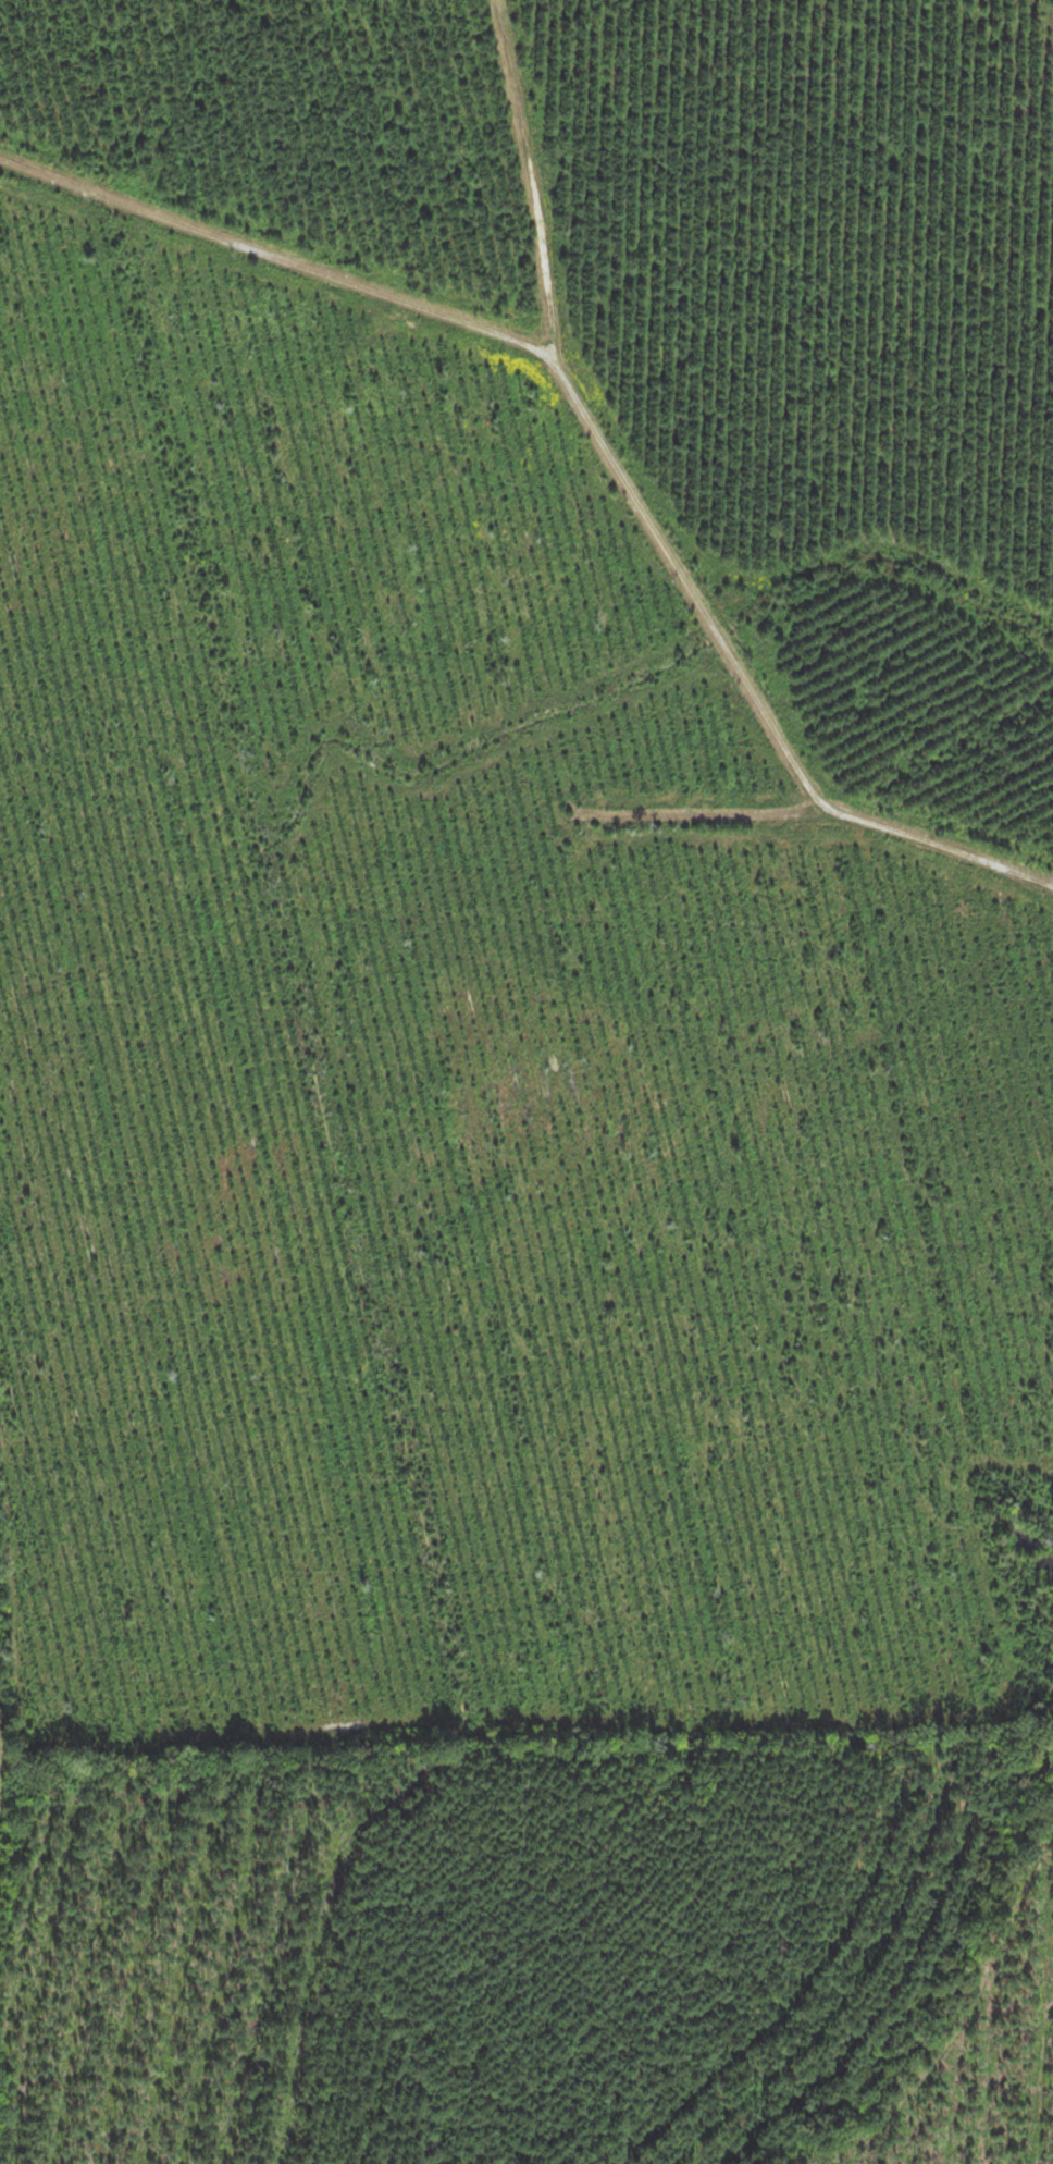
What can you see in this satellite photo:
road: (529, 176)
road: (597, 434)

